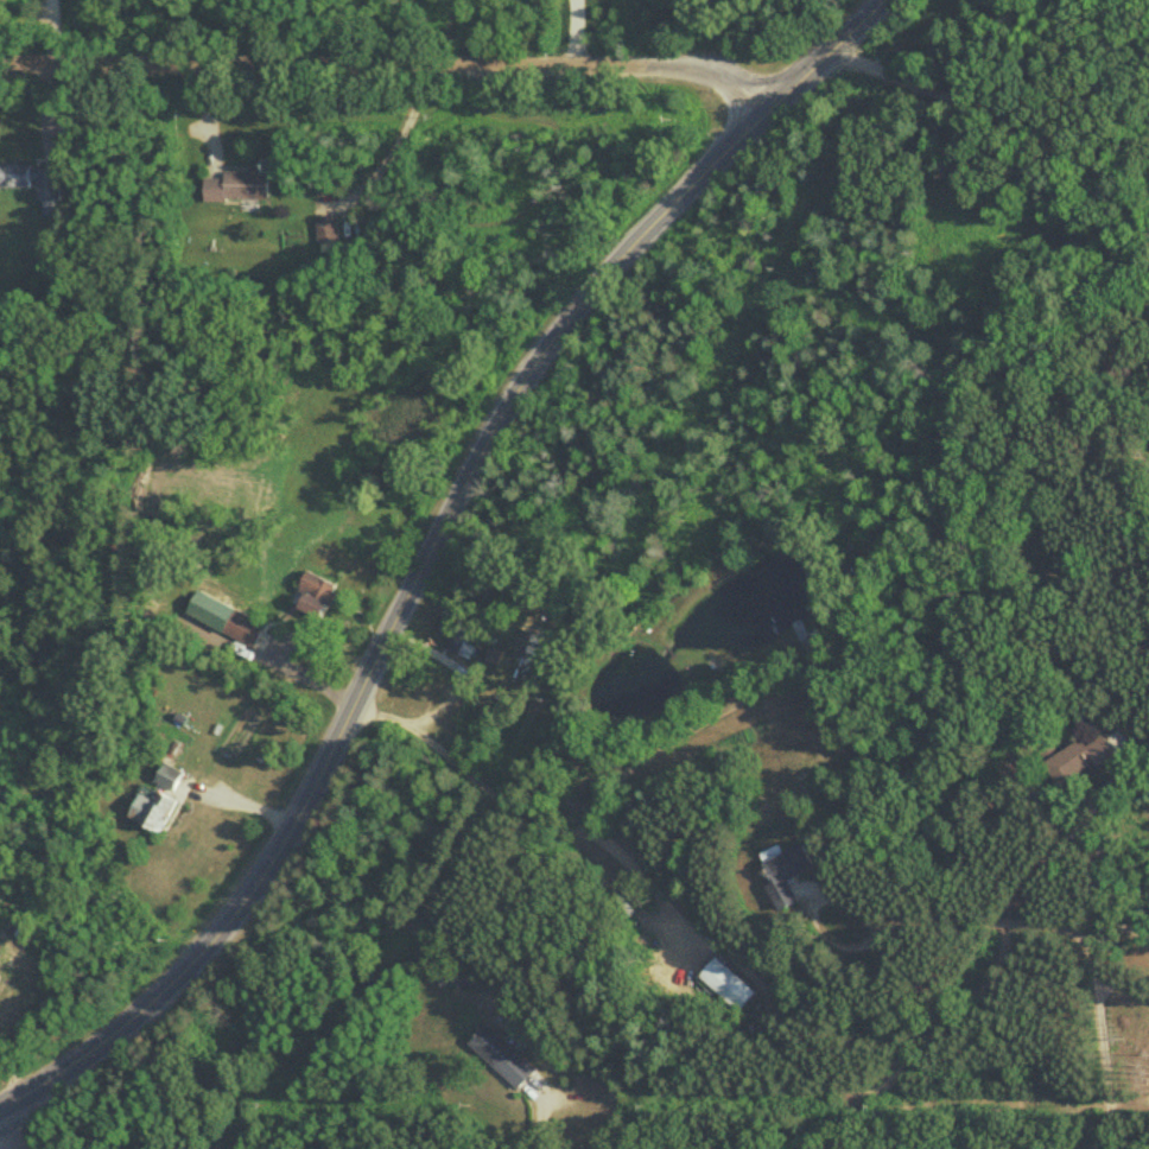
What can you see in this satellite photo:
road: (572, 33)
road: (824, 57)
road: (389, 64)
road: (988, 99)
building: (34, 182)
building: (239, 186)
building: (326, 229)
road: (1131, 419)
building: (318, 595)
road: (391, 622)
building: (245, 628)
building: (457, 634)
building: (1081, 758)
building: (170, 777)
building: (152, 808)
road: (635, 833)
building: (789, 869)
road: (1036, 923)
building: (455, 983)
building: (725, 985)
building: (503, 1060)
road: (1, 1147)

